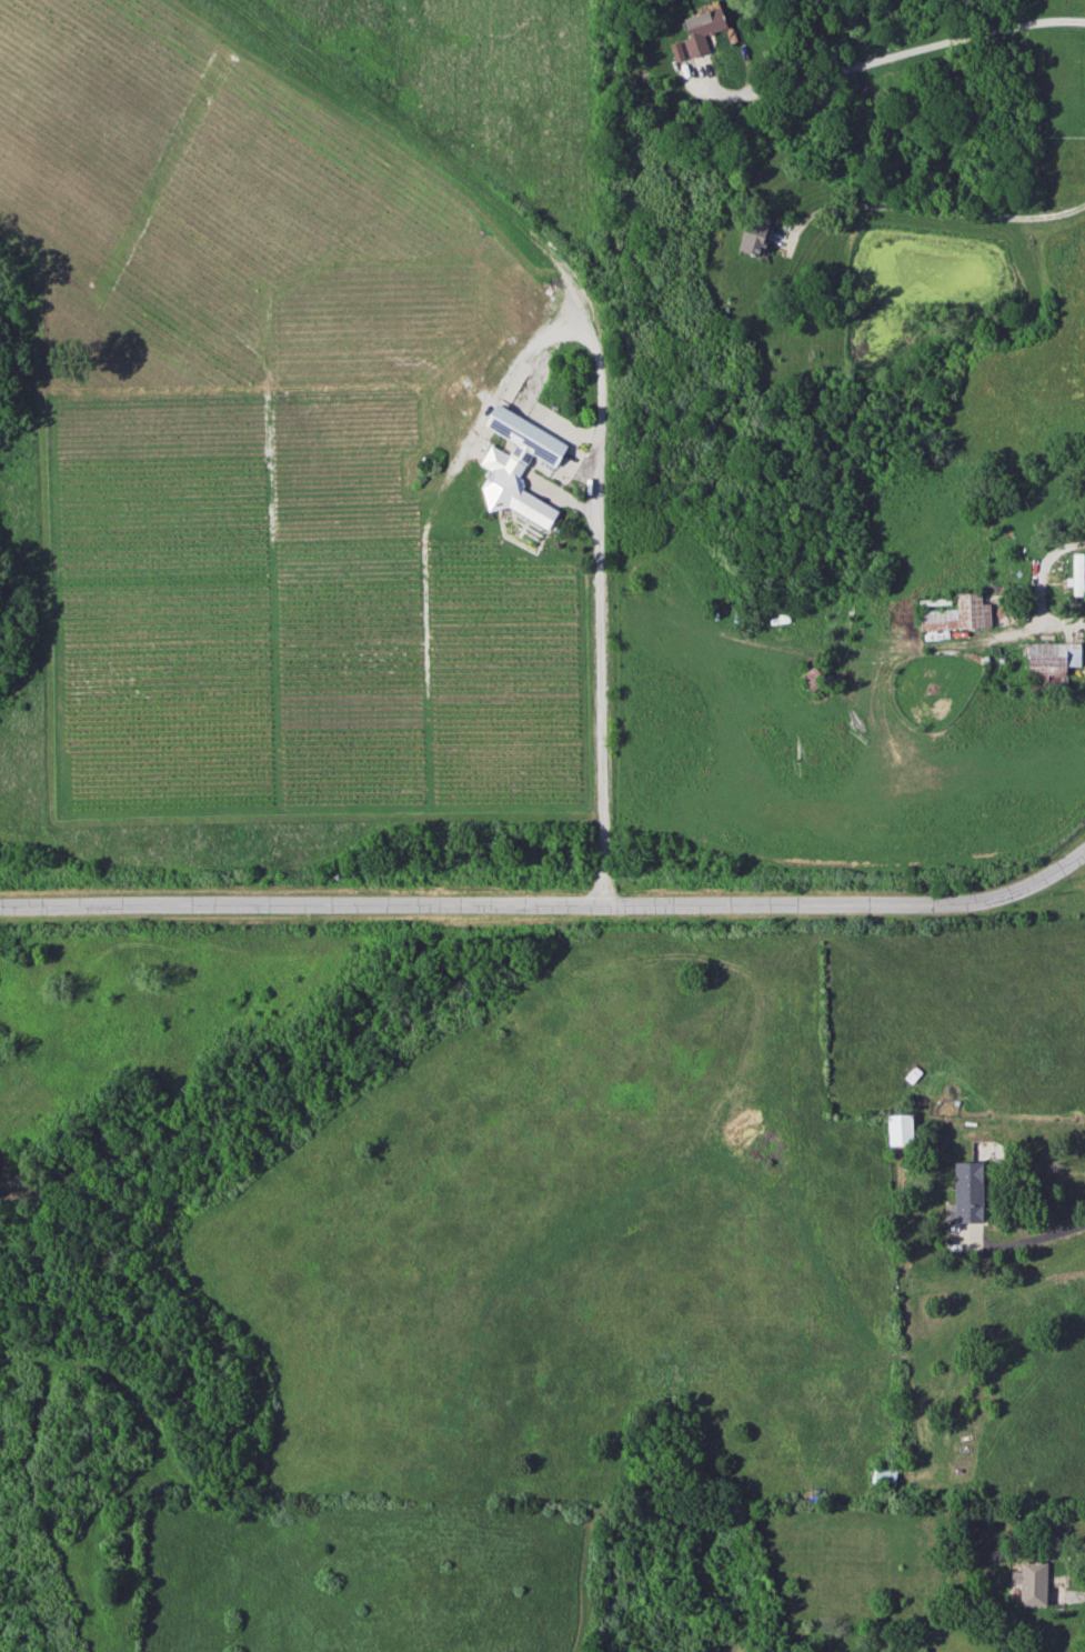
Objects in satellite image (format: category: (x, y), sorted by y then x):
building: (697, 32)
road: (903, 49)
road: (936, 208)
building: (754, 238)
building: (519, 465)
building: (1076, 573)
road: (1036, 590)
building: (957, 613)
building: (1051, 657)
road: (604, 717)
road: (550, 905)
building: (898, 1129)
building: (966, 1193)
road: (1028, 1239)
building: (883, 1474)
road: (1068, 1581)
building: (1031, 1582)

